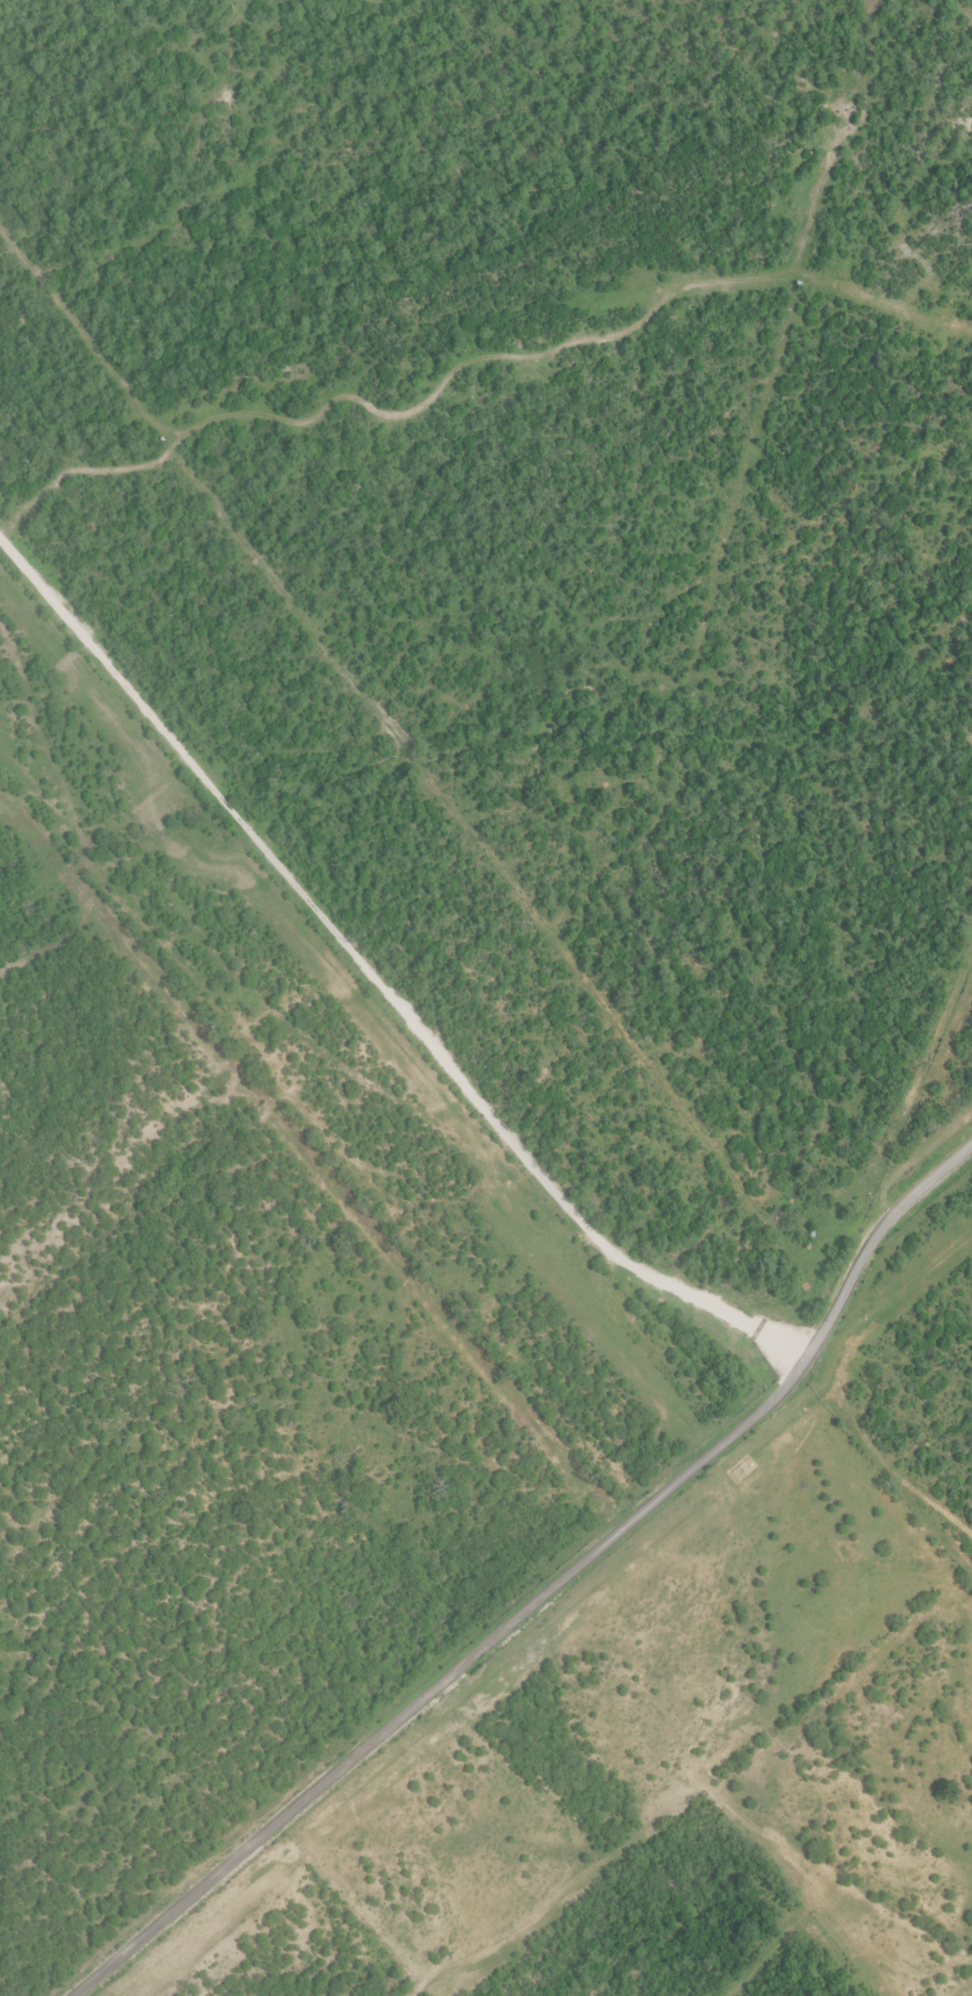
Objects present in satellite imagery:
road: (379, 978)
road: (560, 1591)

